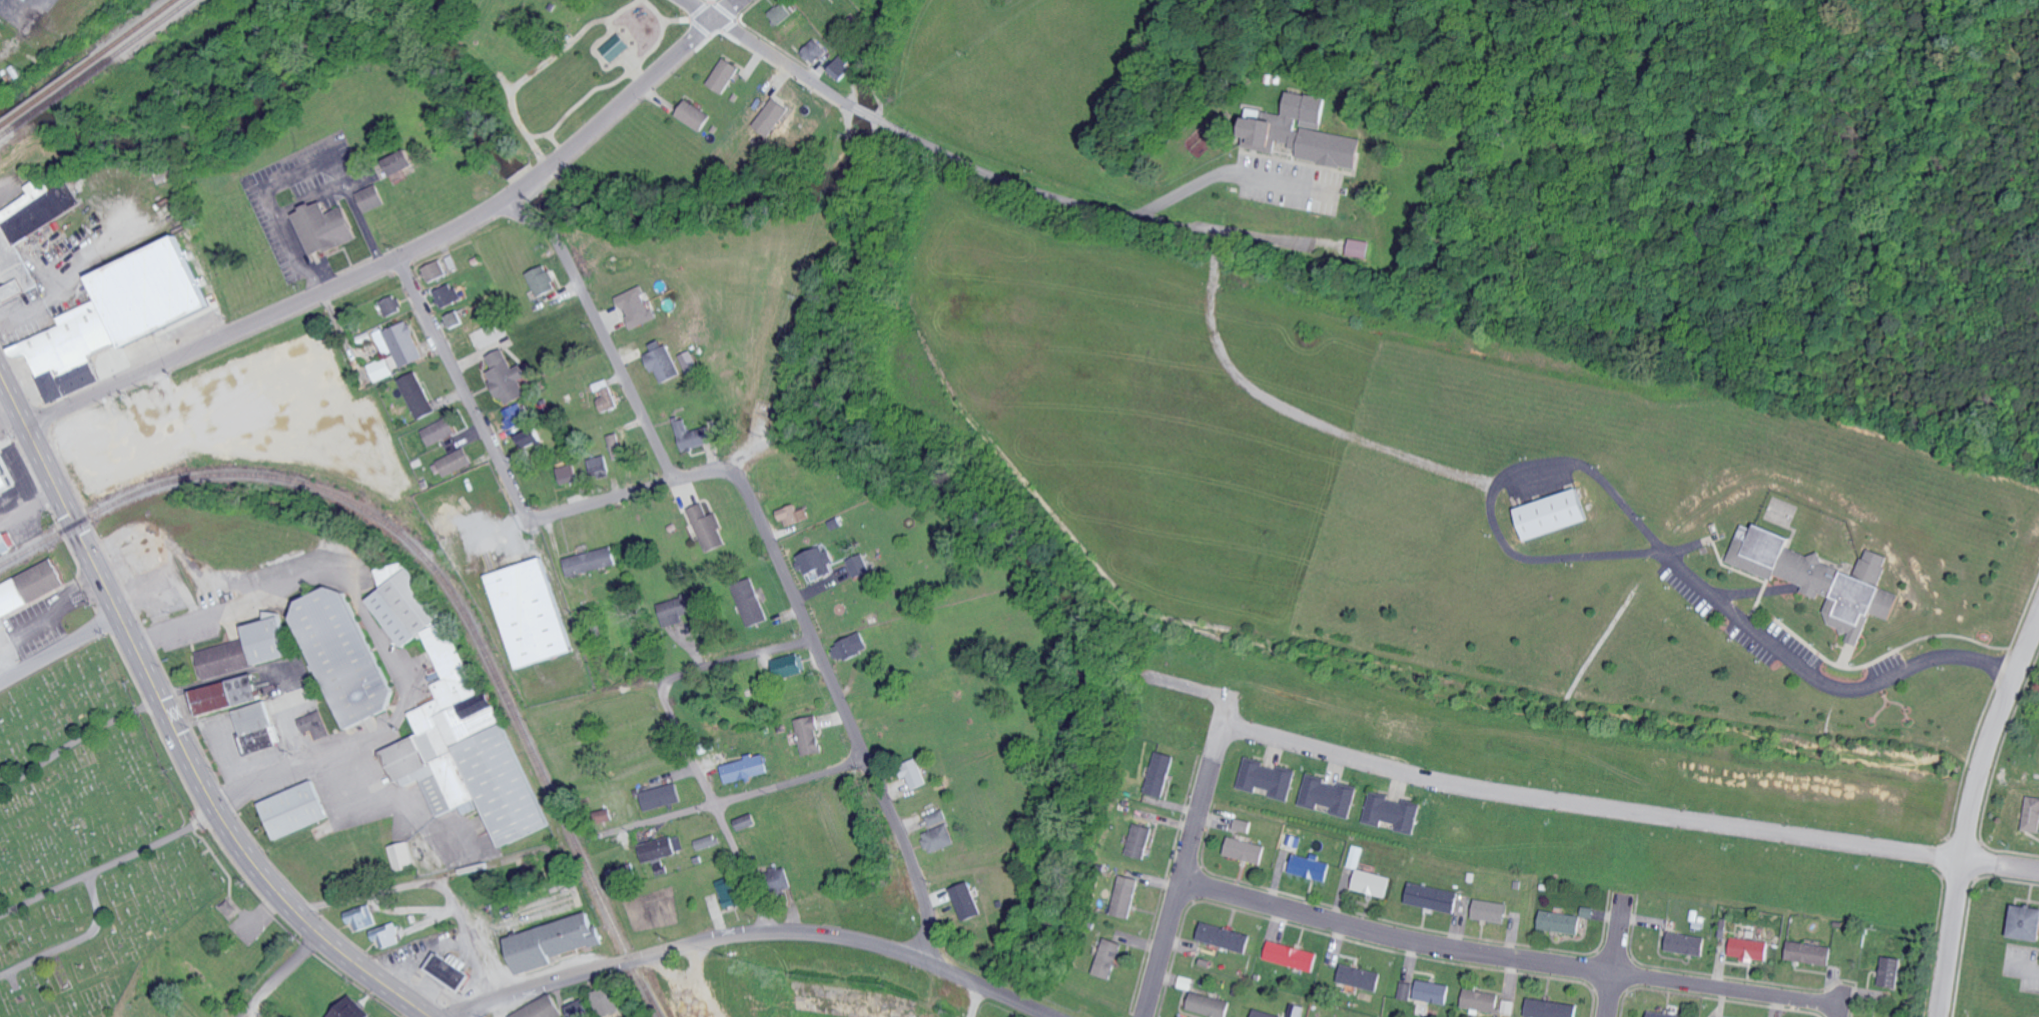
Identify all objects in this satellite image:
building: (781, 13)
railway: (137, 23)
railway: (149, 29)
building: (614, 47)
building: (815, 51)
road: (767, 54)
building: (842, 66)
building: (725, 74)
railway: (55, 82)
railway: (62, 93)
building: (1305, 106)
road: (865, 111)
building: (694, 114)
building: (773, 116)
railway: (2, 119)
building: (1261, 131)
railway: (6, 132)
road: (197, 132)
building: (1328, 147)
building: (400, 161)
road: (1231, 174)
road: (294, 176)
road: (1974, 179)
parking lot: (1292, 184)
road: (1754, 195)
building: (371, 197)
road: (1099, 206)
building: (324, 228)
building: (29, 233)
road: (639, 238)
building: (1356, 248)
road: (408, 254)
road: (1735, 255)
building: (435, 270)
building: (543, 280)
building: (152, 291)
building: (448, 295)
building: (391, 305)
building: (636, 308)
building: (454, 319)
road: (601, 333)
road: (1904, 344)
building: (396, 349)
building: (663, 361)
building: (689, 362)
building: (508, 377)
road: (1, 384)
road: (462, 389)
building: (417, 395)
road: (1289, 413)
building: (517, 414)
building: (439, 430)
building: (694, 436)
building: (530, 437)
building: (617, 445)
building: (454, 462)
building: (599, 466)
building: (568, 474)
building: (4, 481)
road: (624, 495)
road: (28, 505)
building: (1553, 513)
building: (795, 515)
building: (708, 527)
road: (1655, 543)
building: (4, 544)
building: (589, 561)
building: (830, 565)
railway: (439, 577)
building: (1820, 577)
building: (30, 588)
building: (750, 601)
building: (675, 610)
road: (56, 611)
building: (530, 612)
building: (1, 625)
road: (374, 634)
building: (847, 648)
building: (247, 649)
road: (58, 650)
building: (347, 656)
road: (730, 659)
building: (789, 666)
building: (227, 695)
road: (840, 707)
building: (456, 723)
building: (315, 724)
building: (256, 728)
road: (173, 729)
building: (809, 735)
road: (77, 740)
building: (746, 768)
building: (914, 774)
building: (1161, 774)
building: (1268, 779)
building: (1330, 795)
building: (662, 797)
road: (727, 799)
road: (1569, 802)
building: (294, 810)
building: (1393, 812)
road: (1968, 812)
road: (716, 813)
building: (2032, 814)
building: (604, 816)
building: (747, 822)
building: (1243, 825)
building: (939, 832)
building: (1293, 840)
building: (1140, 841)
building: (707, 842)
park: (95, 846)
building: (662, 848)
building: (1246, 850)
building: (1356, 856)
building: (401, 857)
road: (109, 865)
road: (2000, 865)
building: (1310, 867)
building: (621, 872)
building: (782, 878)
road: (427, 882)
building: (1373, 883)
road: (1174, 893)
building: (731, 894)
building: (1126, 896)
building: (1433, 897)
building: (966, 901)
building: (225, 905)
building: (1492, 910)
building: (363, 917)
building: (1561, 922)
building: (2026, 922)
road: (515, 926)
road: (805, 932)
building: (387, 935)
road: (954, 935)
building: (1225, 937)
road: (73, 942)
building: (552, 943)
building: (1686, 944)
building: (1749, 949)
building: (1811, 953)
building: (1292, 956)
road: (1611, 956)
building: (1109, 958)
road: (1506, 961)
road: (2025, 969)
building: (452, 970)
building: (1892, 972)
road: (281, 977)
building: (1359, 977)
building: (1186, 983)
building: (1406, 991)
building: (1433, 992)
road: (499, 997)
building: (606, 1001)
building: (1487, 1002)
building: (1209, 1005)
building: (351, 1009)
building: (1549, 1009)
building: (537, 1010)
building: (1295, 1010)
building: (1264, 1014)
building: (1663, 1014)

